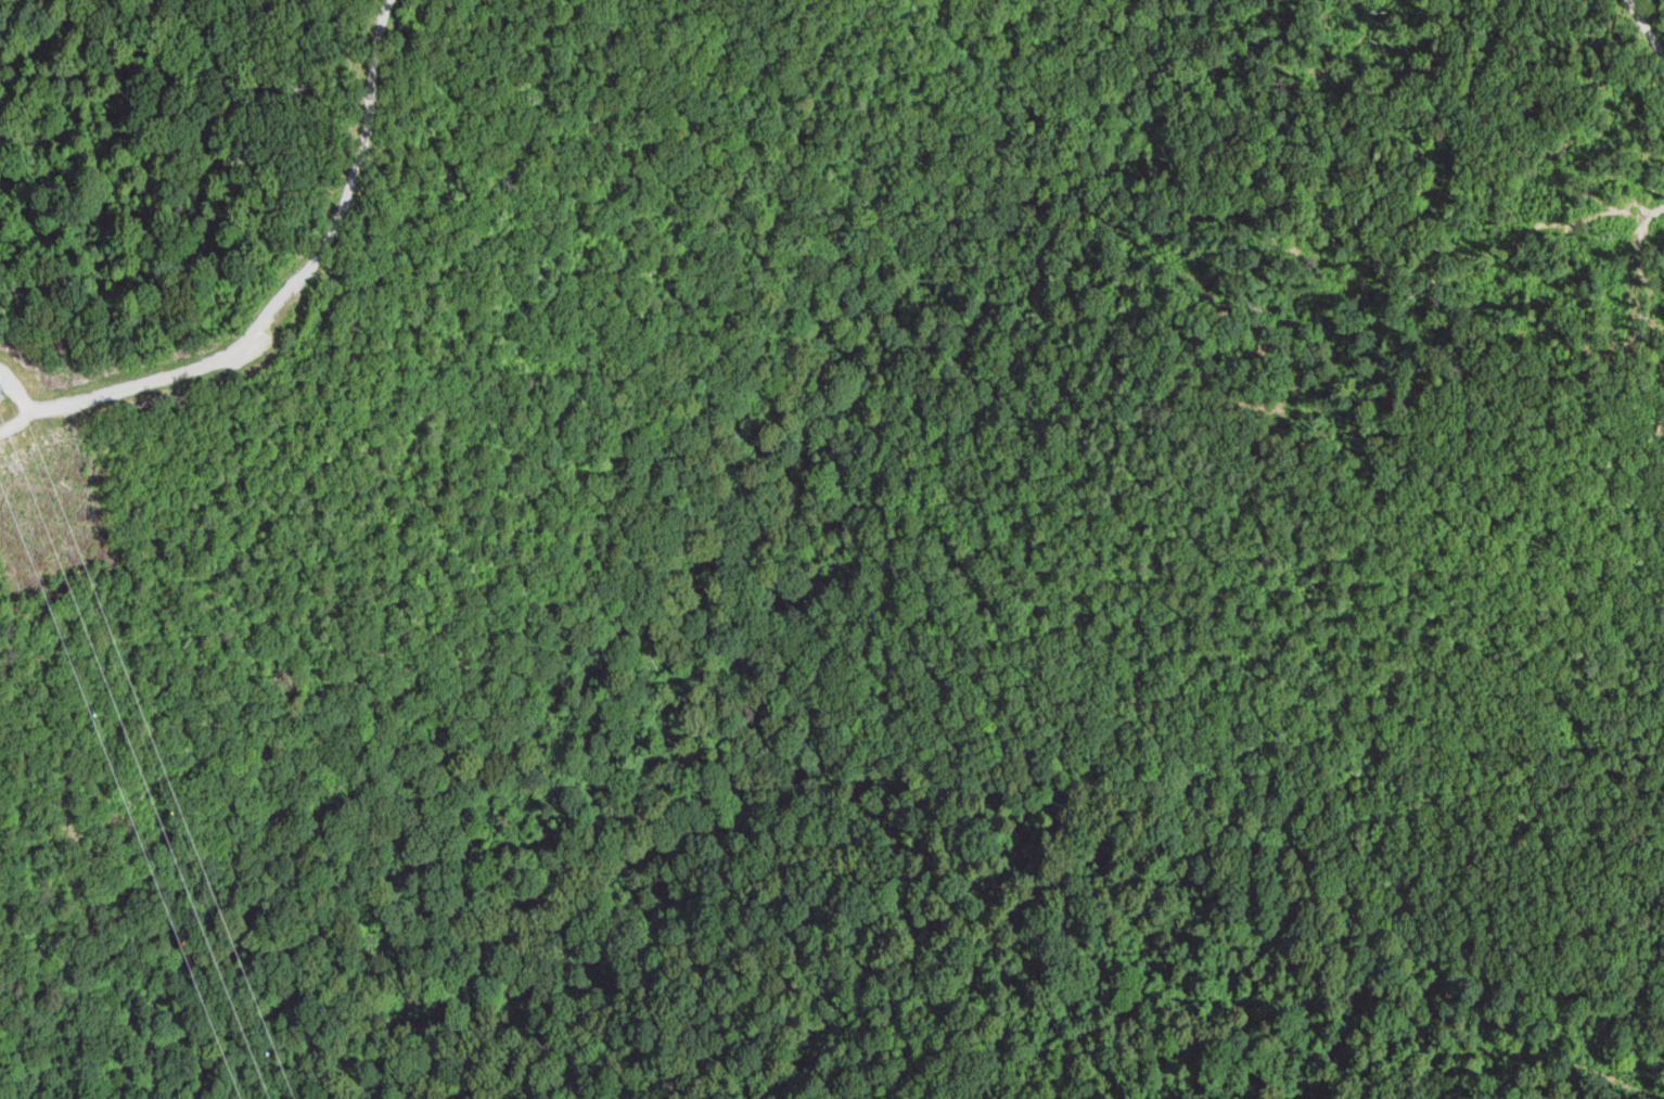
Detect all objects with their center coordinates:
road: (1656, 16)

